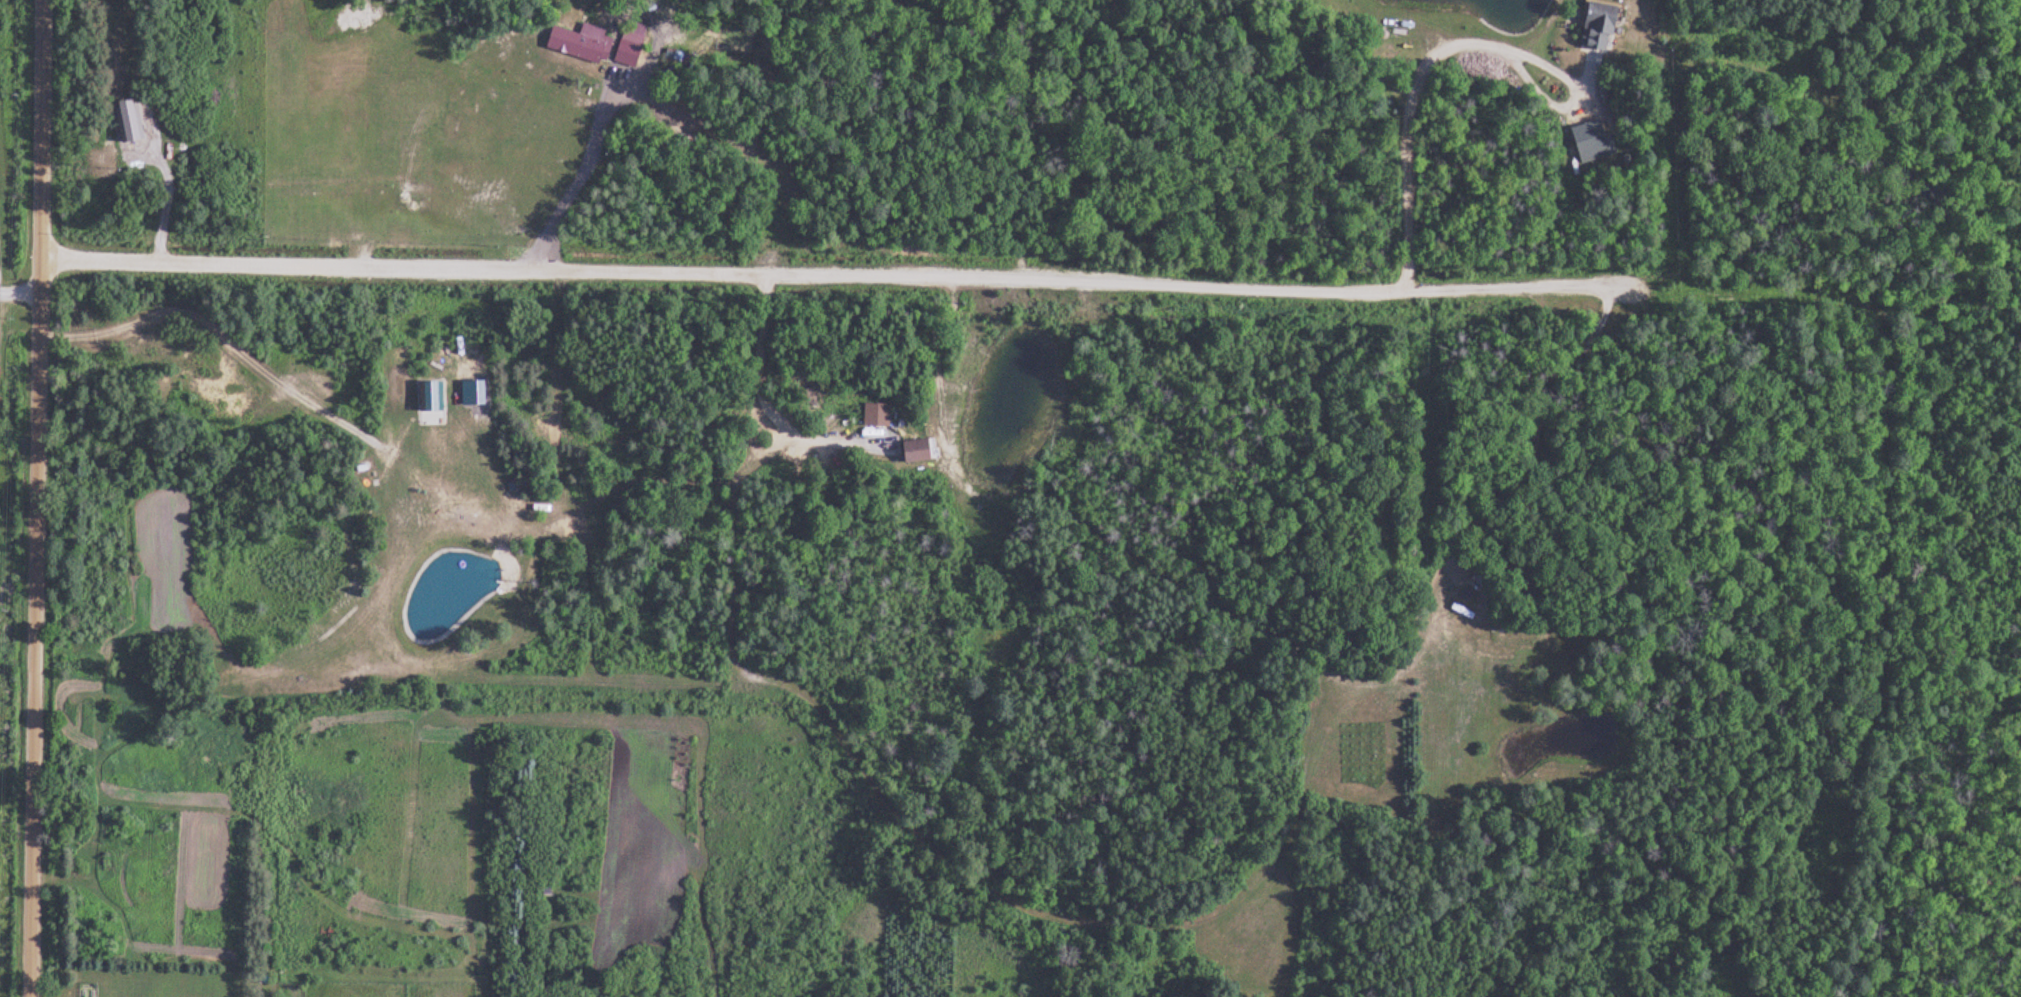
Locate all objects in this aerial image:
building: (1590, 26)
building: (581, 45)
road: (574, 178)
road: (836, 276)
road: (40, 335)
building: (922, 452)
building: (288, 645)
road: (36, 833)

